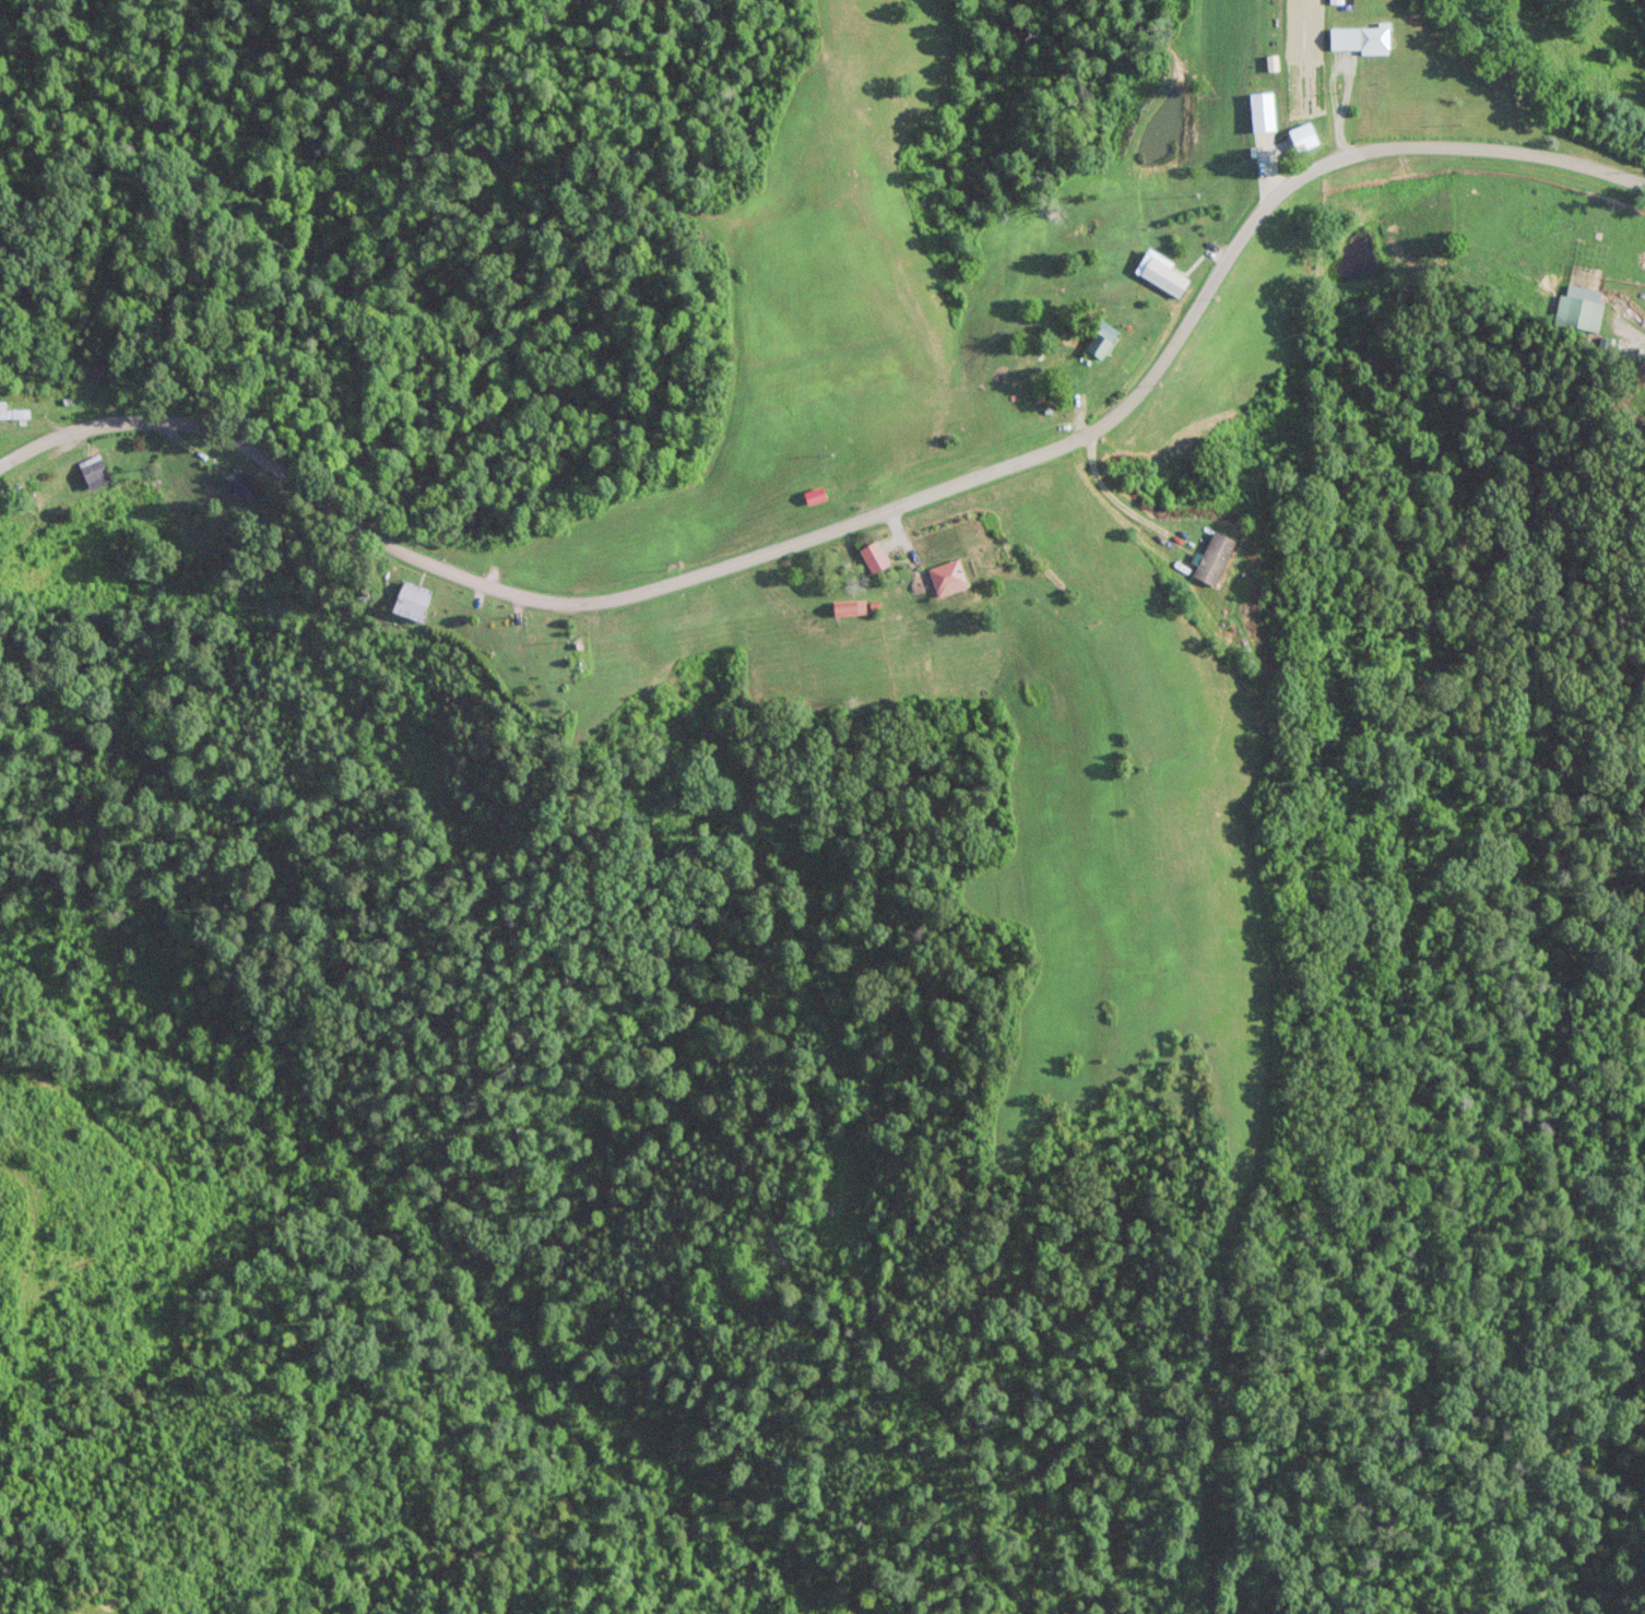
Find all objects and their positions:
building: (1345, 1)
building: (1358, 39)
building: (1261, 112)
building: (1159, 272)
building: (1576, 311)
road: (1629, 331)
building: (1100, 337)
building: (12, 412)
building: (93, 471)
building: (245, 486)
building: (813, 494)
road: (1121, 507)
road: (862, 518)
building: (872, 556)
building: (1212, 557)
building: (947, 577)
building: (411, 600)
building: (847, 606)

